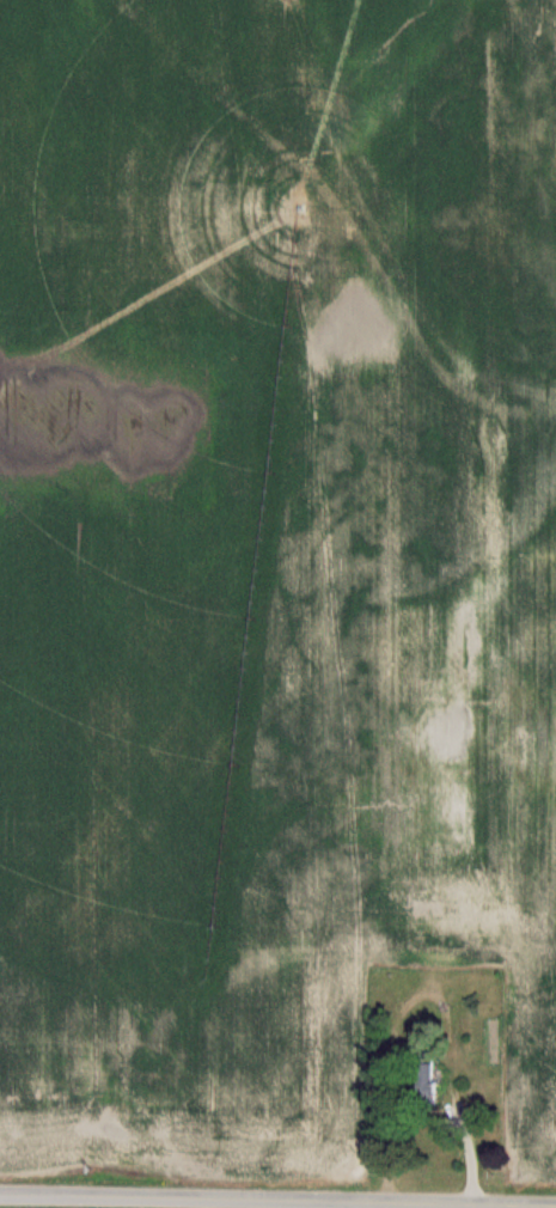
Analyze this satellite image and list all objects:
road: (277, 1201)

